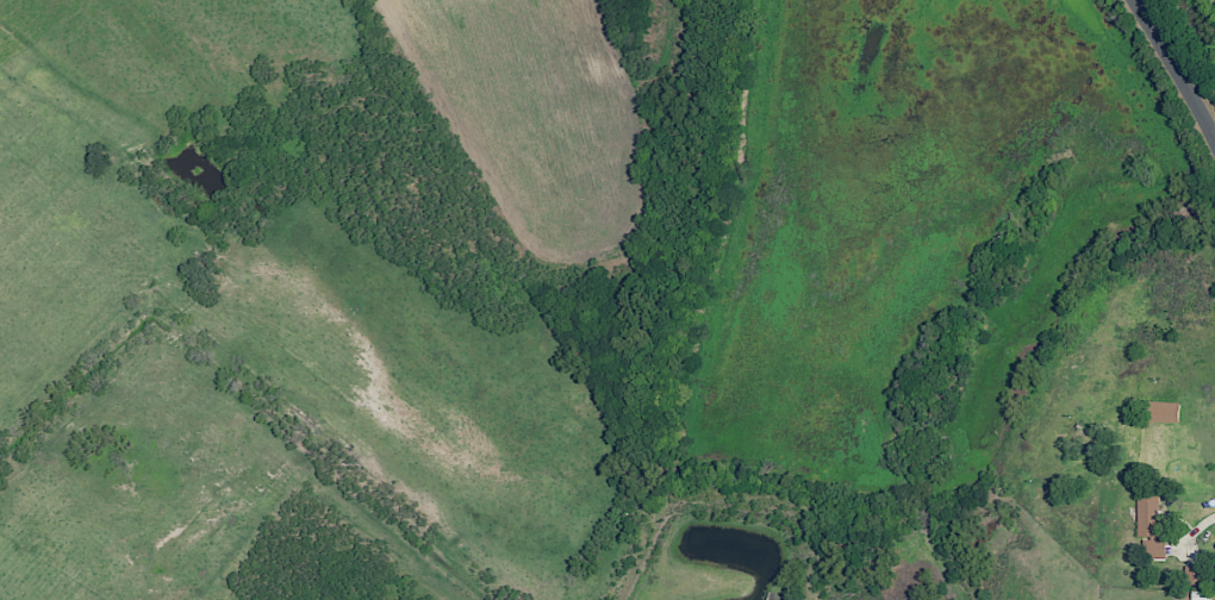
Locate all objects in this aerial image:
road: (1176, 70)
building: (1160, 411)
road: (1202, 521)
building: (1151, 526)

